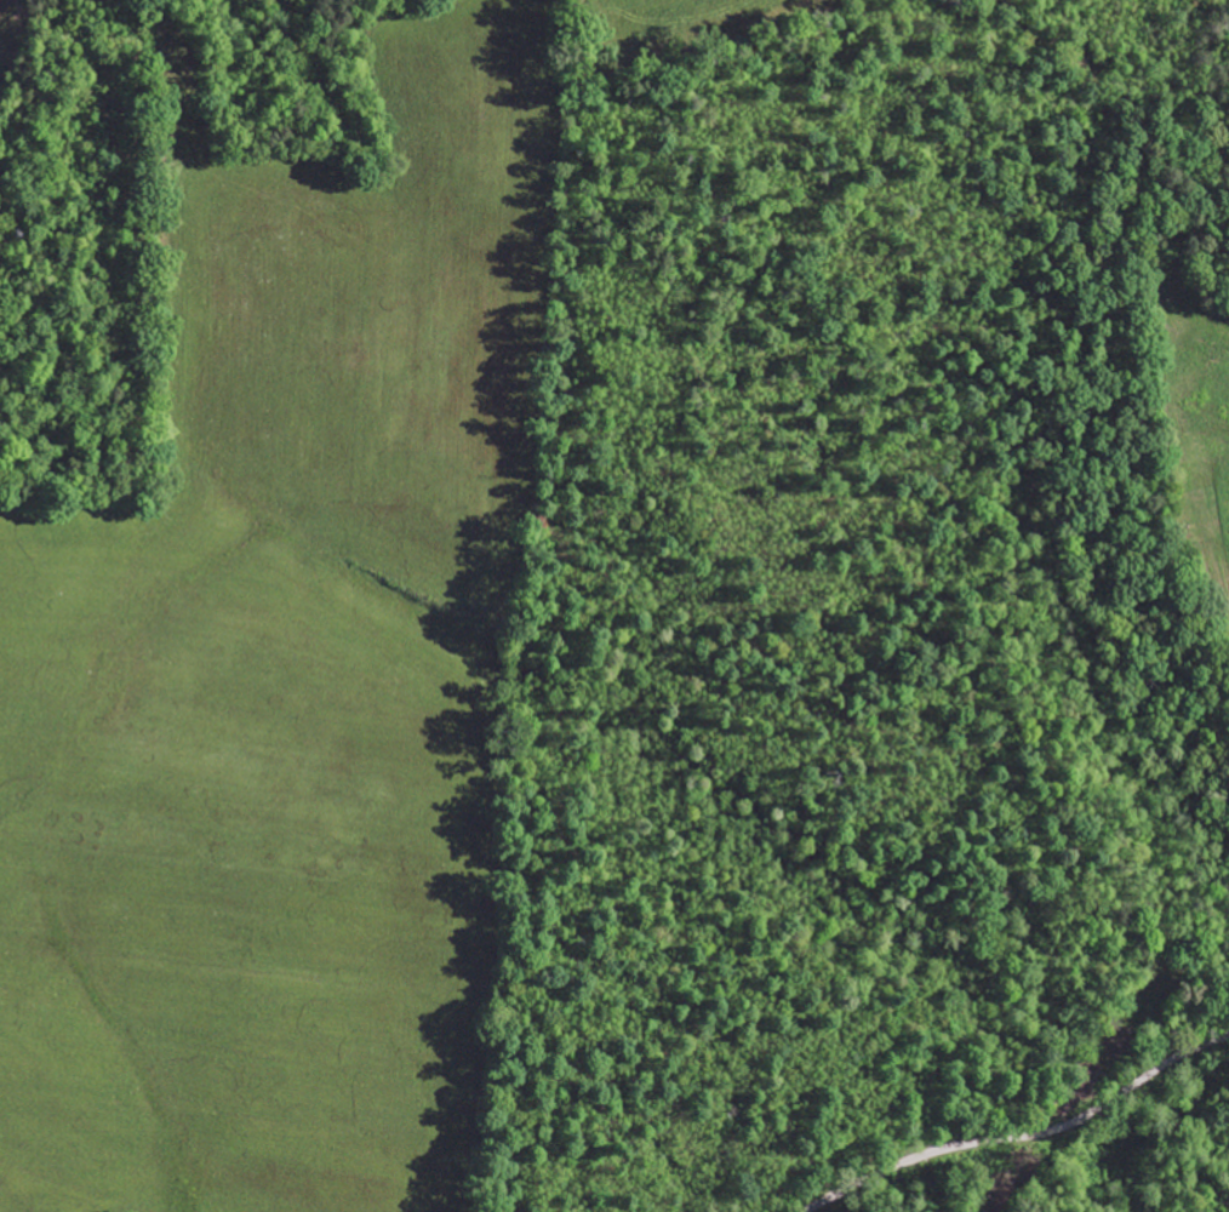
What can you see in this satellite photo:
road: (1019, 1139)

